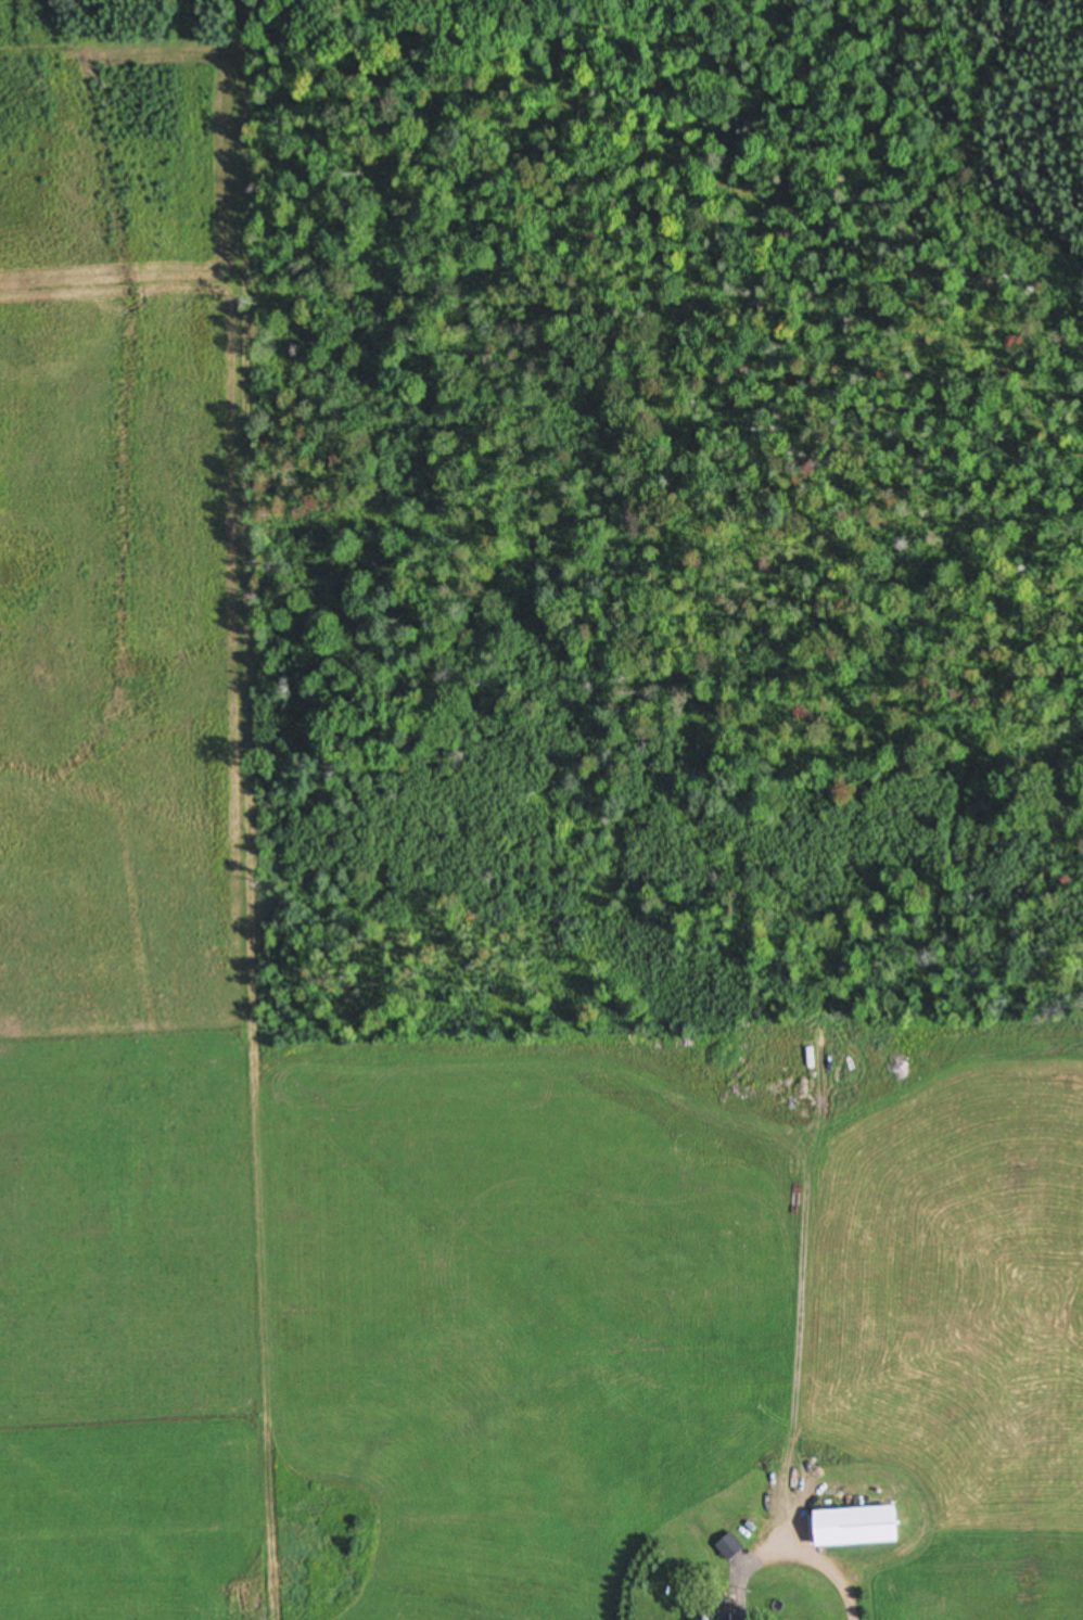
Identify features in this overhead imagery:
building: (852, 1528)
building: (715, 1617)

